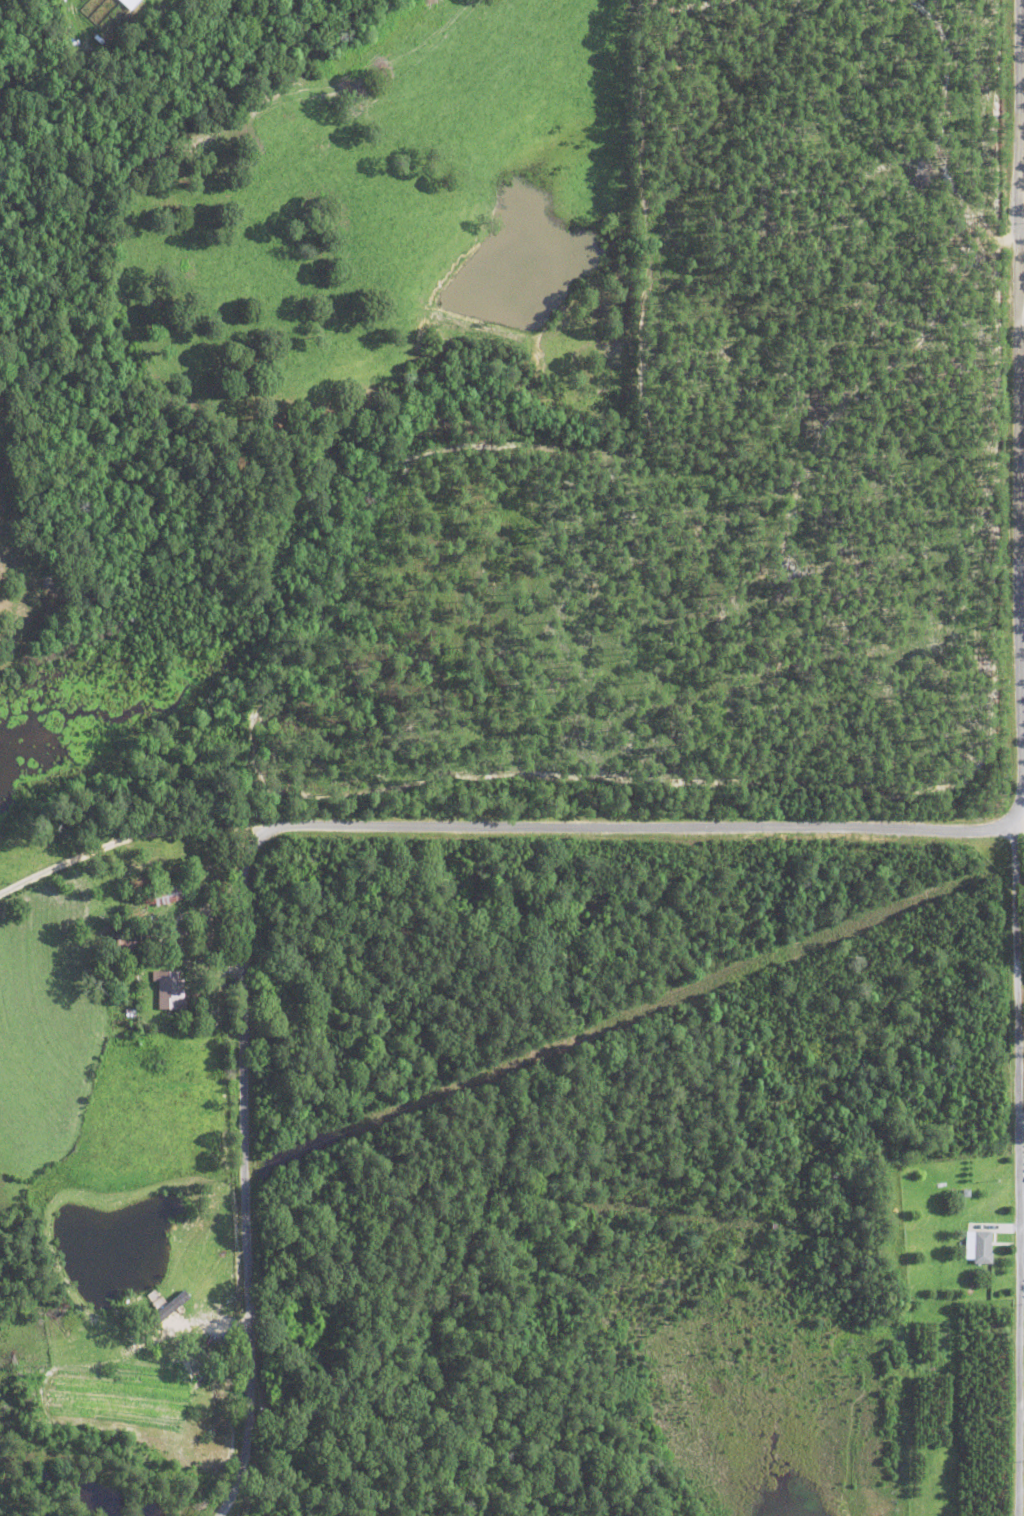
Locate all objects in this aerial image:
building: (129, 3)
building: (96, 9)
road: (700, 833)
building: (170, 894)
building: (169, 989)
road: (1016, 1165)
building: (979, 1245)
building: (167, 1302)

